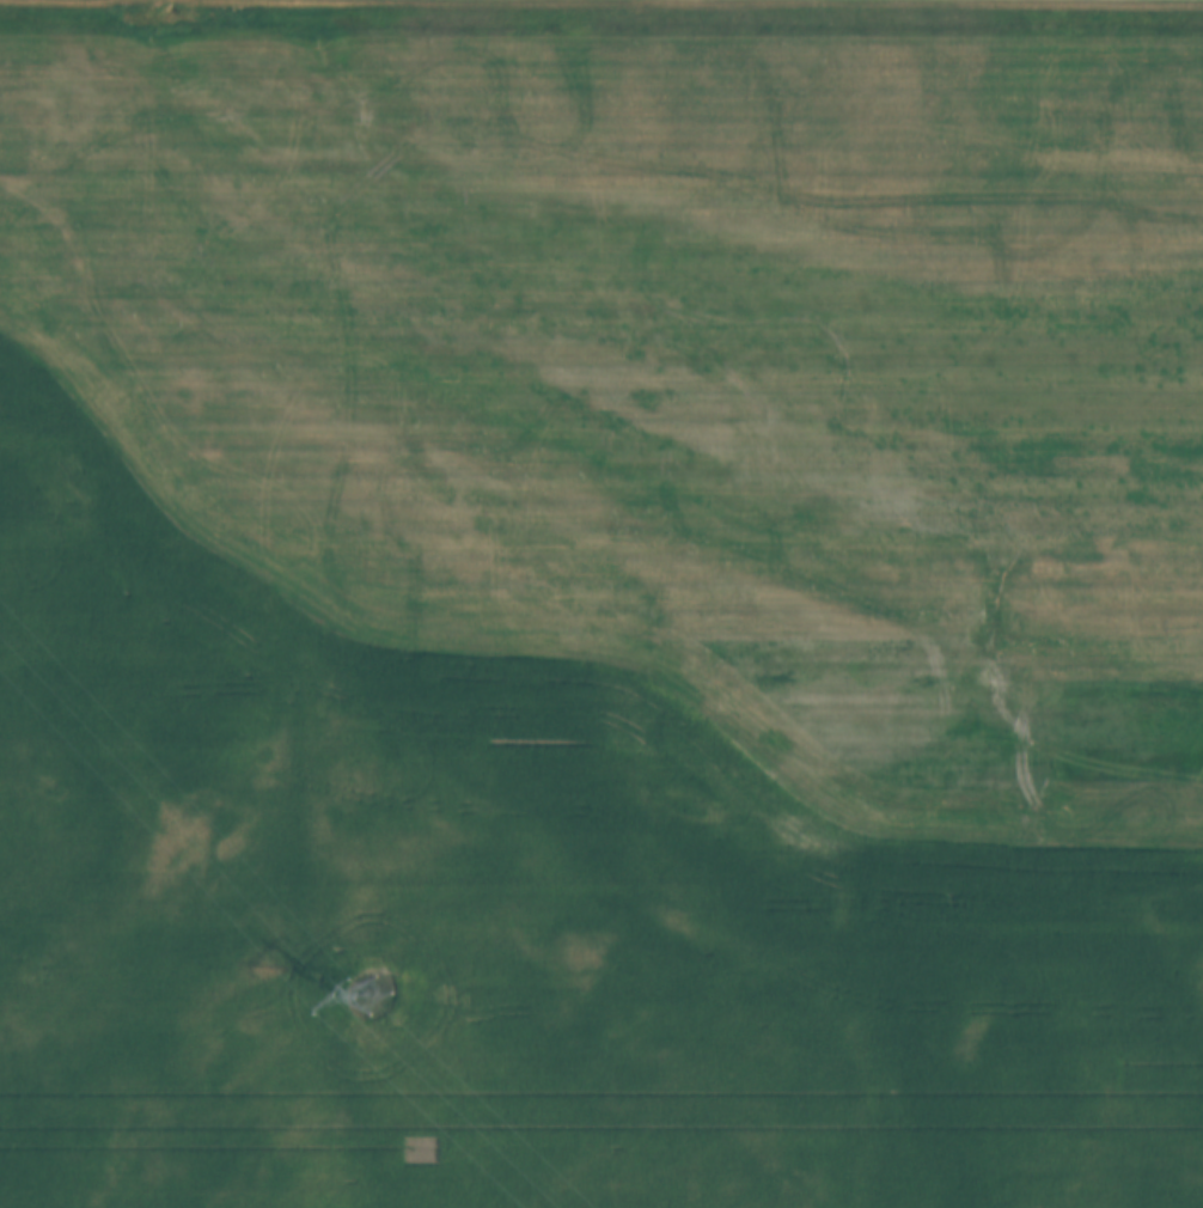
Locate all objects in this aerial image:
power tower: (378, 995)

